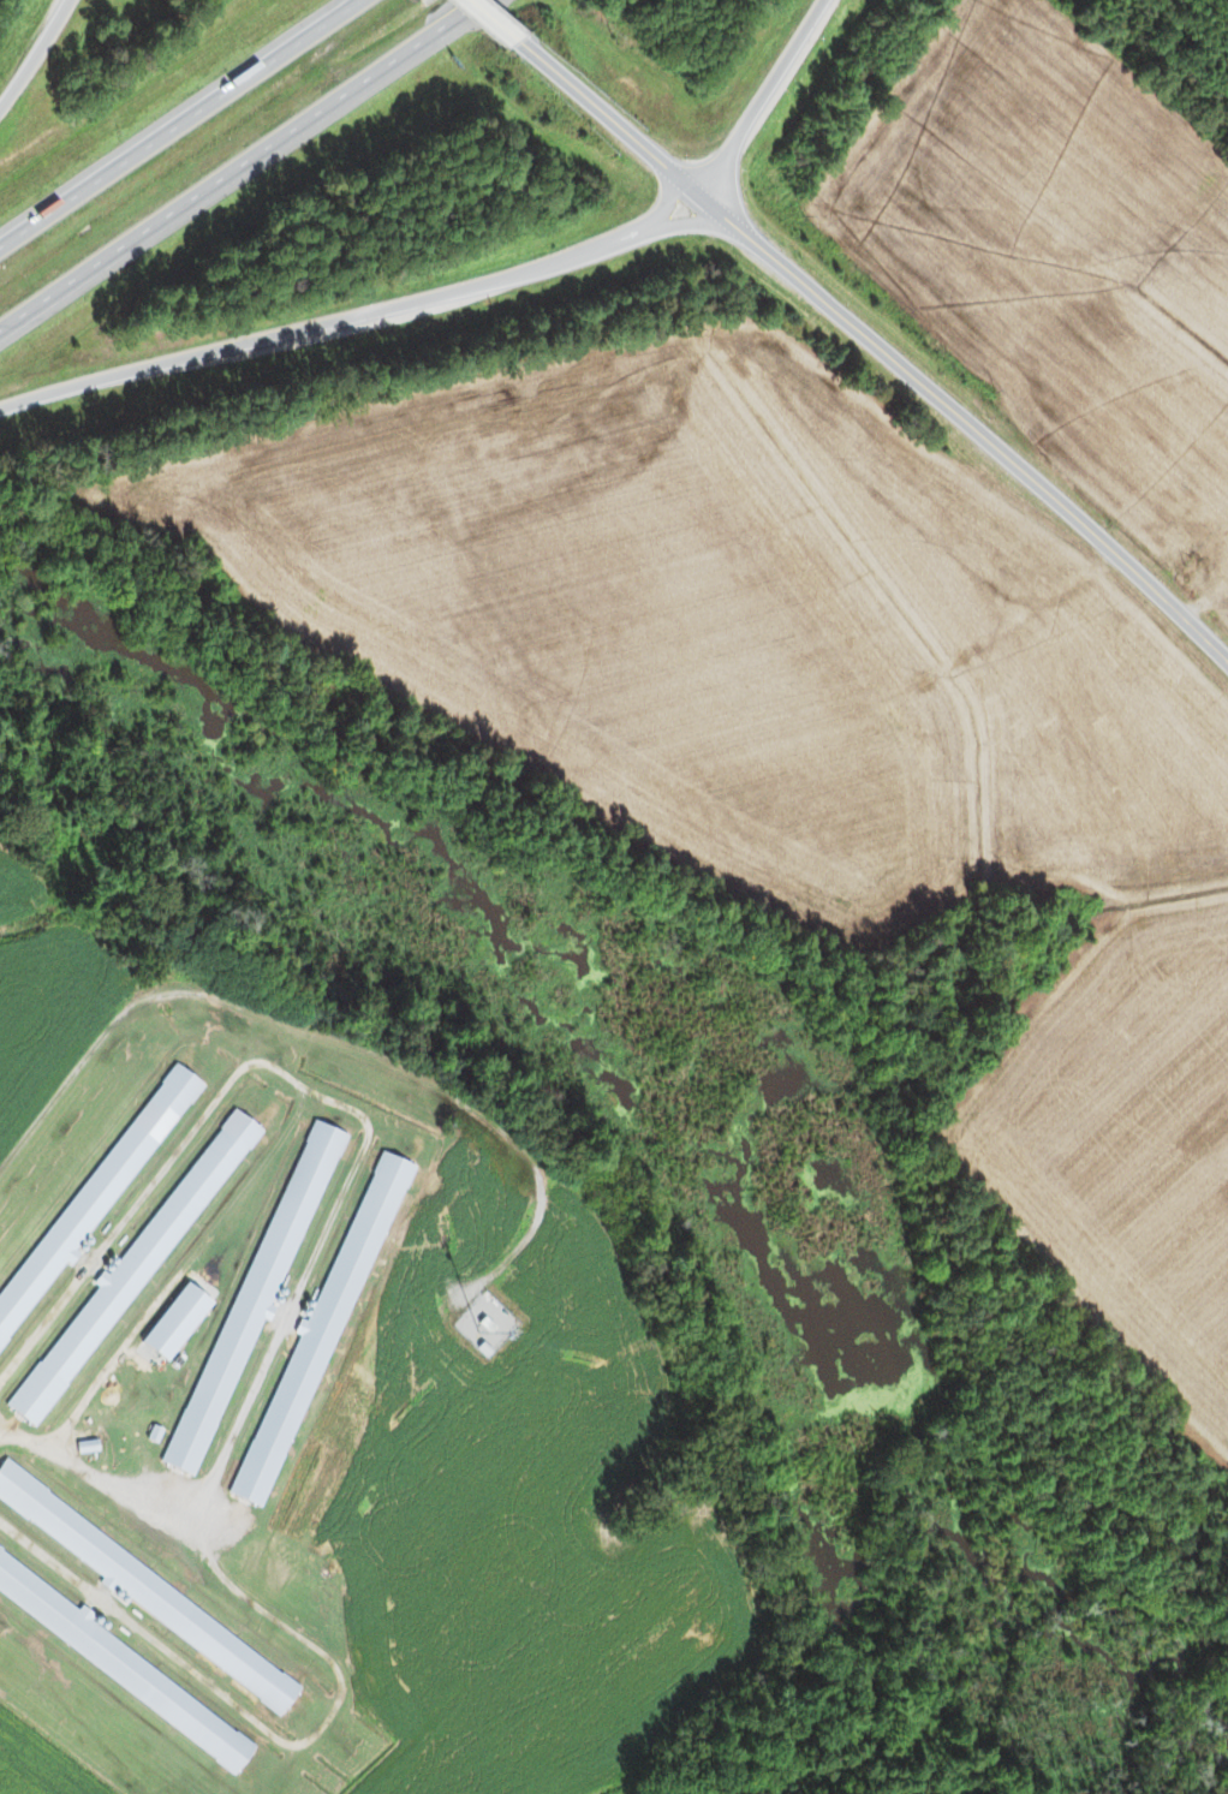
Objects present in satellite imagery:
road: (493, 25)
road: (36, 61)
road: (775, 105)
road: (618, 130)
road: (196, 132)
road: (249, 169)
road: (360, 329)
road: (976, 429)
building: (91, 1199)
building: (127, 1276)
building: (254, 1298)
building: (175, 1322)
building: (147, 1591)
building: (119, 1663)

